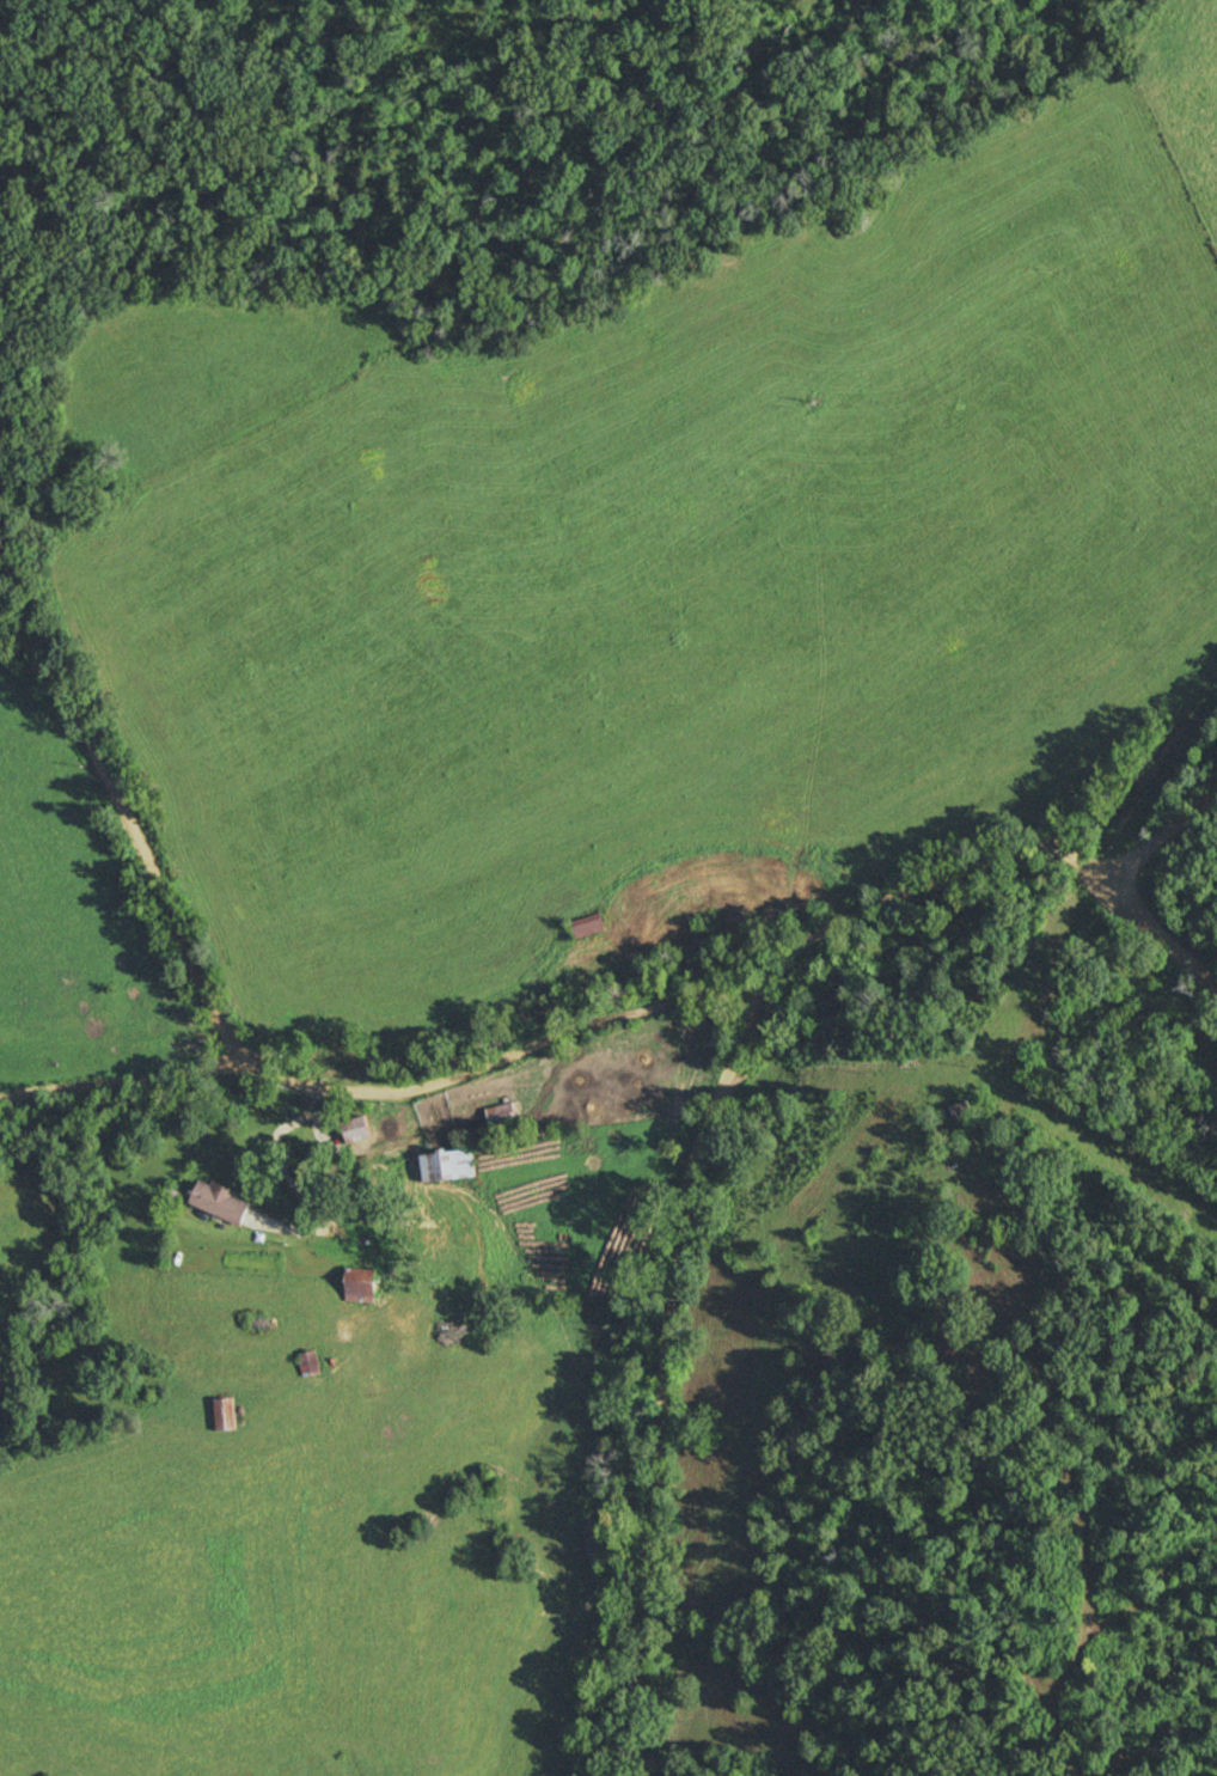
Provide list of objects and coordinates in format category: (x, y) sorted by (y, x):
road: (134, 834)
road: (1169, 844)
building: (587, 926)
road: (1169, 933)
road: (386, 1097)
building: (962, 1111)
building: (501, 1112)
building: (356, 1129)
building: (448, 1165)
road: (702, 1188)
road: (306, 1190)
building: (224, 1201)
building: (363, 1282)
building: (400, 1306)
building: (225, 1414)

